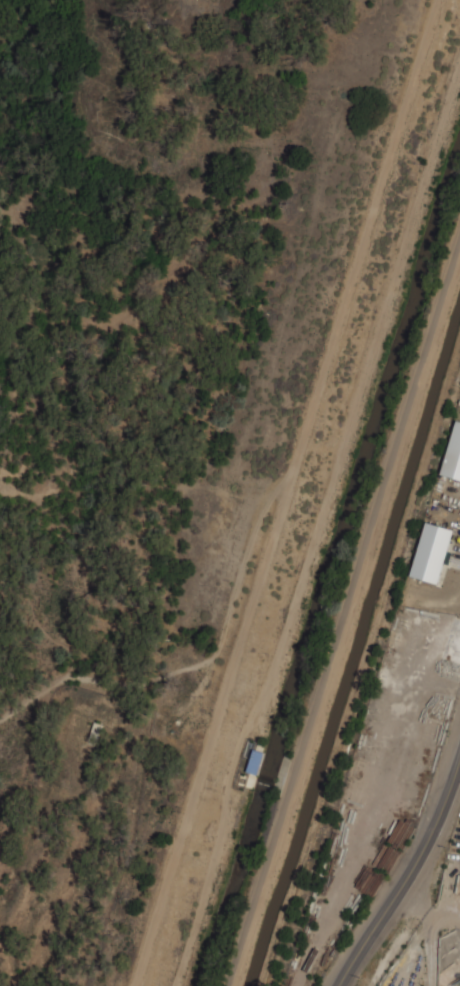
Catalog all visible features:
road: (22, 92)
building: (453, 454)
road: (287, 493)
road: (10, 512)
building: (431, 552)
road: (344, 609)
road: (197, 663)
building: (255, 761)
road: (407, 879)

